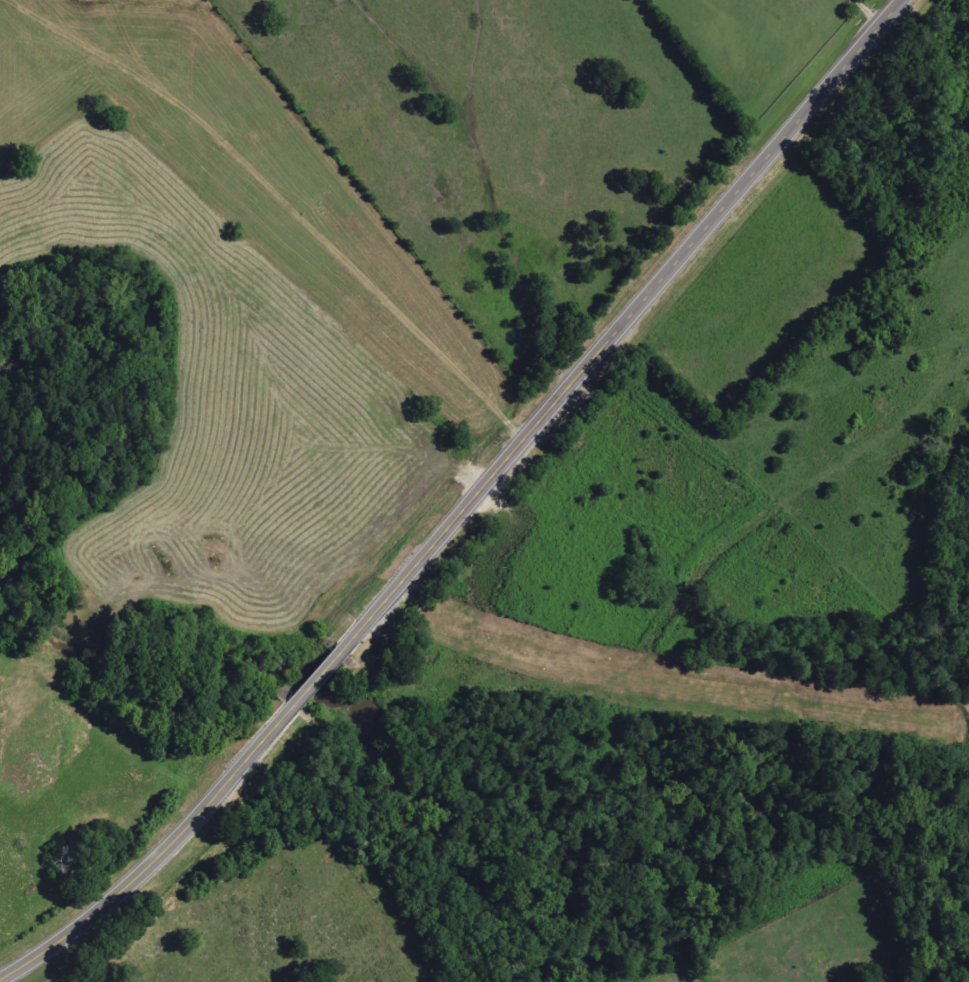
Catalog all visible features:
road: (875, 12)
road: (472, 510)

